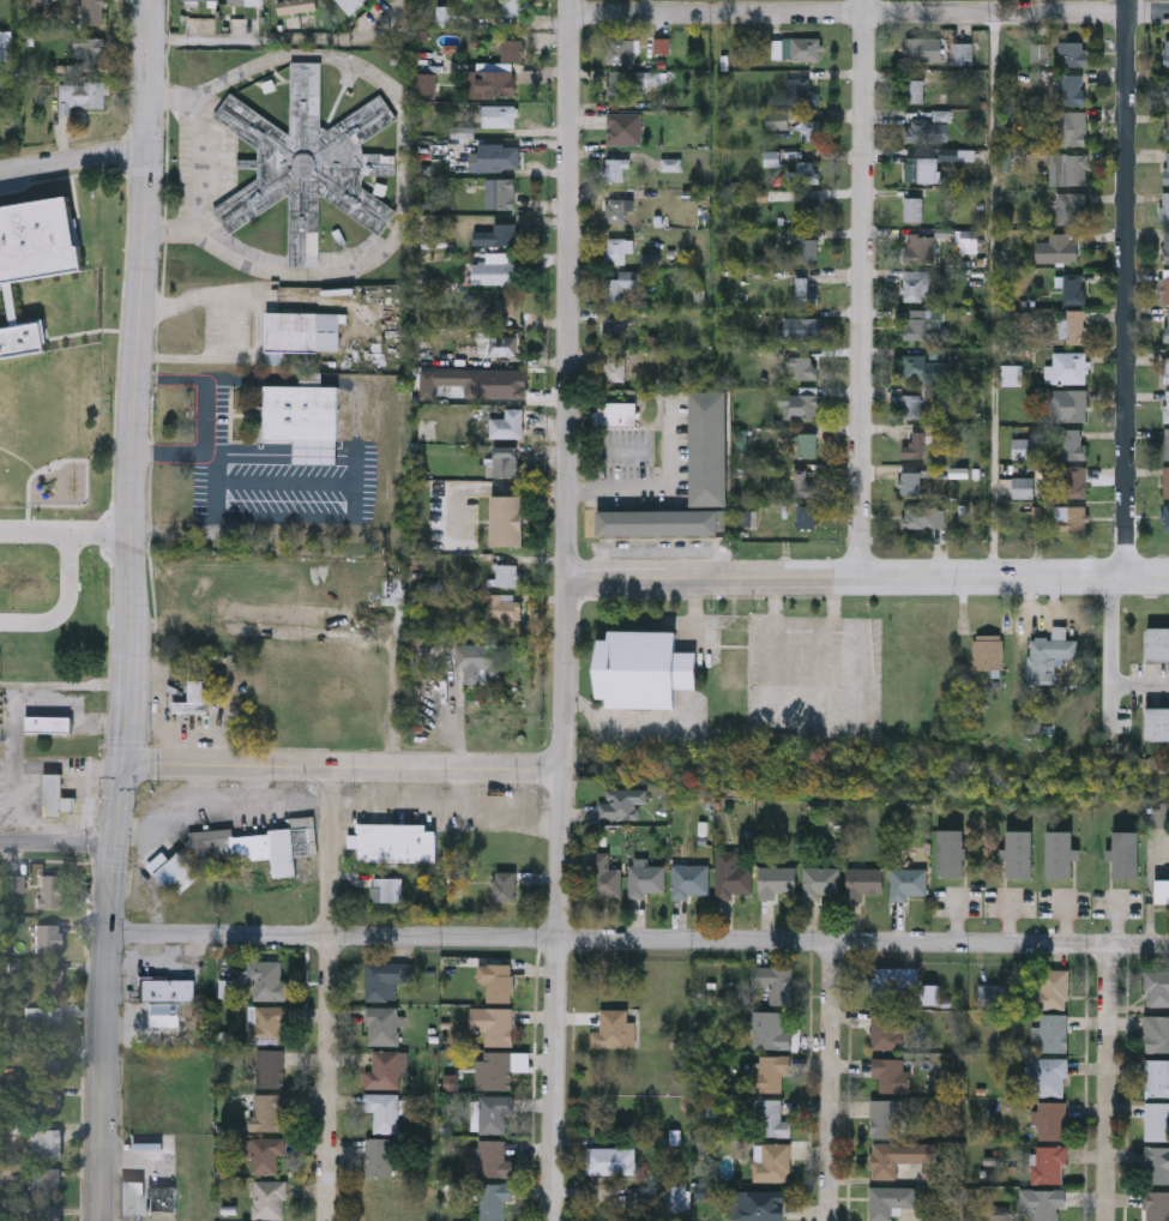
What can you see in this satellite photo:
building: (200, 1)
building: (245, 1)
building: (349, 4)
building: (296, 5)
building: (516, 7)
building: (94, 12)
building: (446, 14)
road: (866, 16)
road: (283, 42)
building: (806, 48)
building: (922, 48)
building: (92, 49)
building: (625, 52)
building: (1167, 52)
building: (963, 53)
building: (1071, 53)
building: (496, 73)
building: (427, 84)
building: (619, 89)
building: (1072, 89)
building: (917, 90)
building: (1167, 91)
building: (801, 92)
building: (79, 94)
building: (499, 115)
building: (929, 127)
building: (1167, 127)
building: (623, 128)
building: (1072, 128)
building: (809, 131)
building: (493, 156)
road: (73, 158)
road: (193, 161)
building: (308, 162)
road: (403, 164)
building: (1167, 167)
building: (617, 168)
building: (1069, 168)
building: (918, 169)
building: (805, 172)
building: (500, 191)
building: (1165, 205)
building: (1072, 206)
building: (914, 207)
building: (616, 210)
building: (811, 210)
building: (505, 231)
building: (1167, 245)
building: (921, 247)
building: (1059, 247)
building: (617, 249)
building: (809, 249)
building: (494, 271)
building: (620, 284)
building: (917, 285)
building: (1074, 287)
building: (1163, 288)
road: (864, 289)
road: (1131, 289)
building: (805, 290)
road: (993, 296)
building: (506, 305)
building: (917, 324)
building: (1075, 325)
building: (1167, 325)
building: (802, 327)
building: (615, 329)
road: (229, 330)
building: (303, 330)
building: (502, 344)
building: (615, 363)
building: (803, 366)
building: (923, 367)
building: (1069, 367)
building: (1167, 368)
building: (805, 402)
building: (911, 404)
building: (1068, 404)
building: (1167, 404)
building: (617, 413)
building: (303, 419)
building: (507, 422)
building: (808, 443)
building: (1073, 443)
building: (1167, 443)
building: (915, 444)
building: (707, 446)
building: (1022, 447)
building: (505, 459)
building: (1075, 481)
building: (1165, 481)
building: (911, 482)
building: (805, 485)
road: (653, 486)
building: (1023, 486)
building: (807, 515)
building: (918, 515)
building: (1165, 515)
building: (1071, 517)
building: (507, 518)
building: (661, 521)
road: (65, 533)
building: (506, 573)
road: (863, 579)
road: (65, 606)
building: (505, 607)
road: (127, 610)
road: (558, 610)
building: (1158, 643)
building: (987, 650)
road: (691, 652)
building: (1049, 654)
road: (1110, 657)
building: (481, 660)
building: (734, 660)
building: (644, 668)
road: (6, 685)
road: (17, 686)
road: (398, 691)
building: (194, 696)
building: (1158, 722)
building: (48, 723)
road: (619, 726)
traffic signals: (122, 762)
road: (338, 766)
building: (55, 795)
road: (289, 800)
road: (245, 801)
building: (621, 802)
road: (414, 805)
road: (508, 810)
road: (179, 816)
building: (397, 840)
building: (260, 843)
road: (56, 844)
traffic signals: (113, 844)
building: (951, 852)
building: (1020, 853)
building: (1061, 853)
building: (1127, 853)
building: (731, 873)
building: (177, 874)
building: (603, 876)
building: (646, 879)
building: (691, 880)
building: (776, 880)
building: (16, 882)
building: (821, 882)
building: (863, 882)
building: (908, 883)
building: (505, 884)
building: (49, 889)
building: (387, 889)
building: (1162, 889)
building: (47, 937)
road: (330, 938)
road: (862, 940)
building: (267, 979)
building: (384, 979)
building: (773, 981)
building: (52, 982)
building: (500, 982)
building: (892, 985)
building: (1157, 987)
building: (1050, 990)
building: (169, 992)
road: (326, 993)
building: (992, 993)
building: (41, 1018)
building: (494, 1023)
building: (271, 1024)
building: (384, 1024)
building: (611, 1028)
building: (891, 1028)
building: (770, 1029)
building: (1052, 1031)
building: (1158, 1035)
building: (47, 1059)
building: (271, 1067)
building: (385, 1070)
building: (499, 1070)
building: (771, 1071)
building: (891, 1073)
building: (1047, 1075)
building: (1156, 1076)
road: (826, 1081)
road: (1105, 1083)
building: (46, 1100)
building: (384, 1111)
building: (267, 1112)
building: (494, 1112)
building: (770, 1117)
building: (882, 1118)
building: (1050, 1119)
building: (1157, 1120)
building: (44, 1142)
building: (264, 1154)
building: (898, 1155)
building: (380, 1156)
building: (494, 1157)
building: (613, 1159)
building: (771, 1160)
building: (1047, 1163)
building: (1156, 1163)
building: (47, 1180)
building: (269, 1198)
building: (494, 1198)
building: (133, 1199)
building: (162, 1199)
building: (890, 1201)
building: (1041, 1203)
building: (761, 1204)
building: (1156, 1205)
building: (47, 1213)

